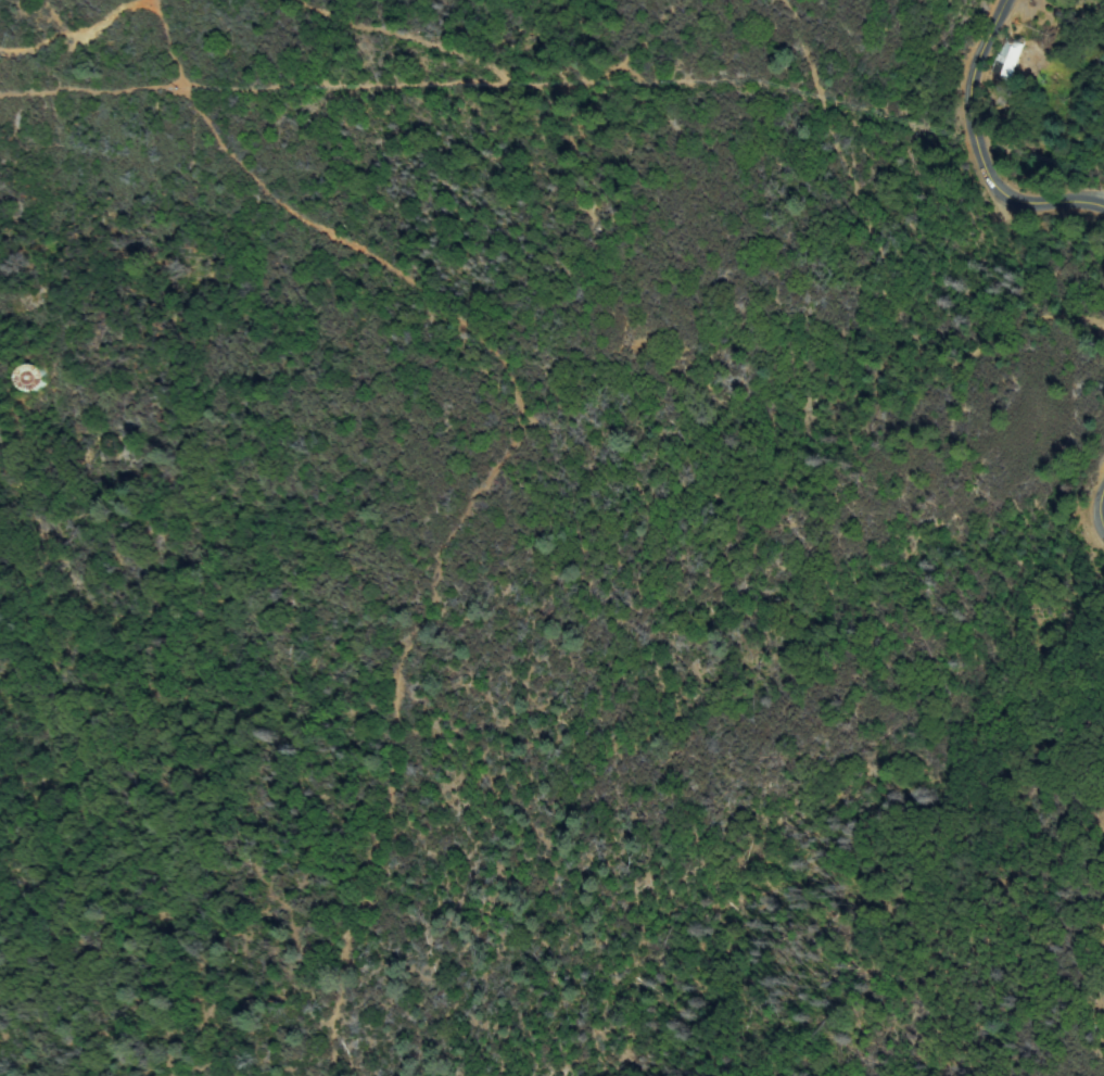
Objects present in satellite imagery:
building: (1007, 58)
road: (975, 151)
building: (25, 377)
storage tank: (30, 378)
road: (1081, 516)

